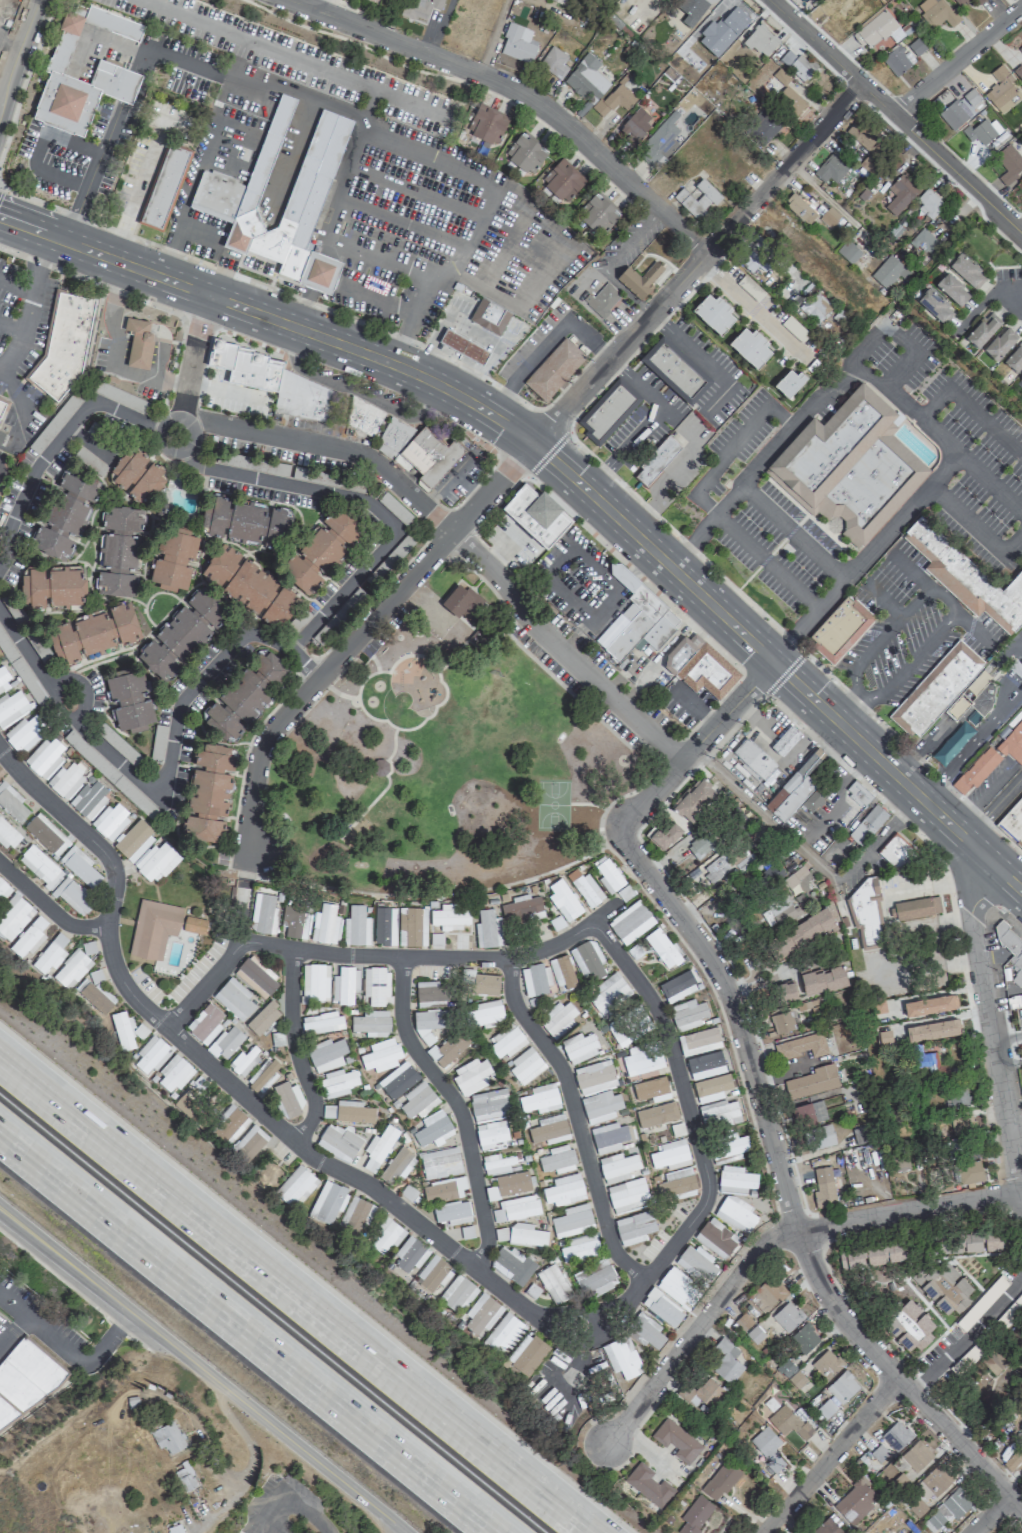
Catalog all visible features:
road: (533, 0)
building: (816, 0)
building: (978, 1)
building: (563, 2)
building: (961, 2)
building: (690, 4)
road: (321, 6)
building: (420, 8)
building: (845, 12)
building: (938, 12)
building: (875, 30)
road: (493, 37)
building: (761, 41)
road: (797, 41)
building: (518, 43)
building: (916, 47)
building: (1021, 48)
road: (370, 49)
road: (17, 50)
building: (1020, 52)
road: (298, 58)
road: (956, 59)
building: (555, 61)
building: (897, 61)
building: (797, 64)
road: (208, 69)
building: (1020, 72)
building: (115, 73)
road: (23, 77)
building: (587, 77)
building: (777, 82)
road: (518, 91)
road: (851, 91)
building: (1003, 91)
building: (971, 97)
building: (616, 99)
building: (793, 101)
building: (955, 114)
road: (895, 117)
building: (488, 125)
building: (636, 125)
building: (764, 126)
building: (981, 131)
building: (862, 135)
building: (661, 141)
road: (38, 147)
road: (105, 147)
building: (526, 154)
road: (348, 160)
building: (1011, 162)
building: (831, 170)
road: (471, 174)
road: (944, 175)
road: (193, 176)
building: (563, 181)
building: (165, 188)
road: (413, 192)
building: (901, 193)
building: (228, 196)
building: (698, 199)
building: (929, 203)
building: (800, 208)
building: (598, 214)
road: (78, 215)
building: (829, 217)
road: (399, 222)
road: (201, 227)
road: (34, 230)
road: (472, 230)
building: (792, 233)
building: (926, 241)
road: (502, 244)
building: (849, 251)
building: (752, 252)
road: (385, 256)
road: (165, 260)
road: (527, 261)
road: (612, 261)
road: (696, 263)
building: (968, 271)
building: (887, 272)
road: (547, 275)
building: (641, 278)
road: (92, 280)
building: (853, 282)
road: (490, 283)
road: (17, 284)
building: (751, 288)
road: (272, 289)
building: (953, 289)
road: (1013, 292)
road: (421, 296)
road: (116, 299)
building: (603, 300)
road: (377, 302)
road: (30, 305)
building: (936, 306)
building: (816, 307)
road: (752, 311)
building: (715, 313)
building: (490, 316)
road: (199, 325)
road: (557, 328)
building: (794, 328)
road: (11, 330)
building: (983, 330)
road: (902, 338)
road: (250, 340)
road: (403, 340)
building: (137, 341)
building: (1001, 343)
building: (65, 346)
building: (464, 347)
building: (752, 347)
road: (194, 356)
road: (289, 359)
building: (1015, 359)
road: (703, 362)
building: (556, 368)
road: (132, 372)
building: (674, 372)
building: (272, 381)
road: (634, 381)
building: (1019, 382)
building: (789, 383)
road: (355, 390)
road: (226, 391)
road: (498, 398)
road: (22, 403)
building: (2, 408)
road: (969, 409)
building: (608, 413)
road: (425, 414)
building: (361, 418)
road: (551, 422)
road: (62, 433)
road: (466, 433)
road: (936, 433)
road: (524, 437)
road: (92, 445)
road: (622, 447)
building: (418, 450)
building: (657, 461)
road: (761, 462)
road: (512, 464)
building: (850, 466)
road: (0, 474)
building: (136, 475)
road: (449, 481)
road: (353, 497)
road: (713, 511)
building: (536, 514)
building: (64, 516)
road: (967, 517)
building: (244, 521)
road: (796, 529)
road: (459, 539)
road: (1014, 542)
building: (321, 550)
building: (119, 551)
building: (393, 555)
road: (864, 556)
building: (173, 560)
road: (642, 562)
road: (586, 564)
road: (635, 573)
building: (967, 577)
road: (626, 578)
building: (53, 586)
building: (250, 586)
road: (617, 587)
road: (939, 592)
road: (741, 595)
road: (885, 600)
road: (917, 602)
building: (461, 603)
building: (635, 619)
building: (190, 625)
building: (840, 628)
building: (94, 633)
road: (351, 636)
road: (871, 652)
building: (157, 661)
road: (910, 663)
building: (699, 665)
building: (18, 667)
road: (784, 674)
building: (3, 681)
road: (754, 683)
building: (947, 691)
building: (246, 695)
building: (130, 699)
road: (693, 705)
building: (12, 708)
road: (848, 708)
road: (806, 731)
building: (24, 733)
building: (785, 740)
building: (118, 745)
road: (694, 745)
road: (971, 747)
building: (45, 757)
building: (753, 759)
building: (990, 760)
park: (440, 765)
building: (379, 767)
building: (66, 779)
road: (165, 782)
building: (796, 788)
building: (209, 793)
building: (859, 794)
building: (89, 798)
building: (694, 799)
building: (11, 803)
road: (993, 807)
building: (110, 821)
building: (1013, 822)
building: (867, 825)
road: (957, 831)
building: (45, 834)
building: (7, 835)
building: (665, 835)
road: (789, 838)
building: (134, 841)
building: (699, 846)
building: (895, 852)
building: (155, 861)
building: (39, 866)
building: (79, 866)
building: (725, 868)
building: (607, 874)
building: (3, 888)
road: (438, 889)
building: (586, 889)
building: (625, 892)
building: (73, 896)
road: (970, 897)
road: (887, 898)
building: (563, 899)
road: (242, 902)
road: (48, 907)
building: (914, 908)
building: (522, 910)
building: (778, 910)
building: (263, 914)
building: (866, 915)
road: (1006, 916)
building: (14, 917)
building: (448, 917)
building: (295, 921)
building: (556, 922)
building: (630, 922)
building: (325, 924)
building: (194, 925)
building: (356, 926)
building: (385, 926)
building: (411, 926)
building: (153, 928)
building: (487, 929)
building: (802, 933)
building: (29, 938)
building: (662, 947)
building: (1011, 948)
building: (50, 954)
road: (432, 957)
building: (587, 960)
building: (72, 969)
building: (561, 971)
building: (256, 975)
building: (822, 979)
building: (535, 980)
road: (204, 983)
building: (314, 983)
building: (486, 984)
building: (344, 985)
building: (376, 985)
building: (674, 988)
building: (607, 993)
building: (786, 993)
building: (432, 994)
building: (95, 996)
building: (233, 999)
building: (1014, 1001)
building: (928, 1005)
building: (878, 1006)
building: (267, 1013)
building: (484, 1013)
building: (687, 1014)
building: (559, 1019)
building: (322, 1022)
building: (782, 1022)
building: (205, 1023)
building: (371, 1023)
building: (430, 1023)
building: (629, 1026)
road: (989, 1029)
building: (932, 1030)
building: (122, 1031)
building: (139, 1031)
building: (884, 1038)
building: (699, 1041)
building: (226, 1042)
building: (506, 1042)
building: (579, 1047)
building: (800, 1047)
building: (449, 1048)
road: (294, 1050)
building: (326, 1054)
building: (150, 1055)
building: (380, 1055)
building: (642, 1058)
building: (244, 1061)
building: (930, 1064)
building: (705, 1065)
building: (525, 1066)
building: (174, 1074)
building: (265, 1075)
building: (471, 1075)
building: (594, 1077)
building: (397, 1080)
building: (812, 1082)
building: (337, 1083)
building: (711, 1088)
building: (651, 1089)
road: (238, 1091)
building: (957, 1096)
building: (288, 1099)
building: (540, 1099)
building: (418, 1100)
building: (488, 1104)
building: (600, 1106)
road: (457, 1107)
building: (328, 1111)
building: (353, 1111)
building: (807, 1113)
building: (656, 1114)
building: (719, 1114)
road: (576, 1119)
building: (962, 1124)
building: (433, 1128)
building: (549, 1130)
building: (491, 1135)
building: (860, 1135)
building: (609, 1137)
building: (819, 1137)
road: (695, 1140)
building: (338, 1142)
building: (249, 1143)
building: (378, 1147)
building: (728, 1148)
building: (961, 1148)
building: (670, 1154)
building: (557, 1159)
building: (900, 1162)
building: (440, 1163)
building: (496, 1164)
building: (397, 1165)
building: (617, 1167)
building: (512, 1182)
building: (677, 1184)
building: (295, 1187)
building: (823, 1187)
building: (443, 1189)
building: (564, 1190)
road: (784, 1191)
building: (627, 1195)
building: (327, 1202)
building: (516, 1208)
building: (452, 1212)
building: (735, 1213)
building: (355, 1216)
building: (572, 1220)
building: (634, 1227)
building: (526, 1235)
building: (385, 1236)
building: (716, 1237)
road: (765, 1240)
building: (969, 1241)
building: (580, 1247)
building: (410, 1254)
building: (876, 1254)
building: (696, 1263)
building: (512, 1265)
building: (433, 1274)
building: (595, 1279)
building: (554, 1284)
building: (944, 1284)
building: (678, 1287)
building: (456, 1293)
building: (766, 1294)
road: (293, 1296)
building: (985, 1299)
building: (662, 1307)
building: (1012, 1311)
building: (481, 1313)
building: (787, 1316)
building: (742, 1322)
building: (910, 1325)
building: (646, 1330)
road: (245, 1332)
building: (504, 1333)
building: (755, 1334)
road: (966, 1337)
building: (804, 1338)
road: (67, 1352)
building: (527, 1354)
building: (622, 1357)
building: (725, 1360)
building: (966, 1360)
building: (996, 1360)
building: (826, 1363)
building: (785, 1367)
road: (575, 1368)
road: (202, 1371)
building: (26, 1378)
building: (796, 1379)
building: (842, 1387)
building: (701, 1393)
building: (825, 1408)
building: (788, 1422)
building: (895, 1435)
building: (167, 1437)
building: (676, 1440)
building: (767, 1447)
building: (879, 1452)
road: (827, 1456)
building: (916, 1456)
building: (1012, 1460)
road: (249, 1462)
building: (185, 1477)
building: (936, 1480)
building: (720, 1481)
building: (648, 1485)
road: (292, 1501)
building: (855, 1501)
building: (917, 1507)
building: (945, 1511)
road: (989, 1514)
building: (695, 1515)
building: (827, 1527)
building: (174, 1528)
building: (910, 1532)

